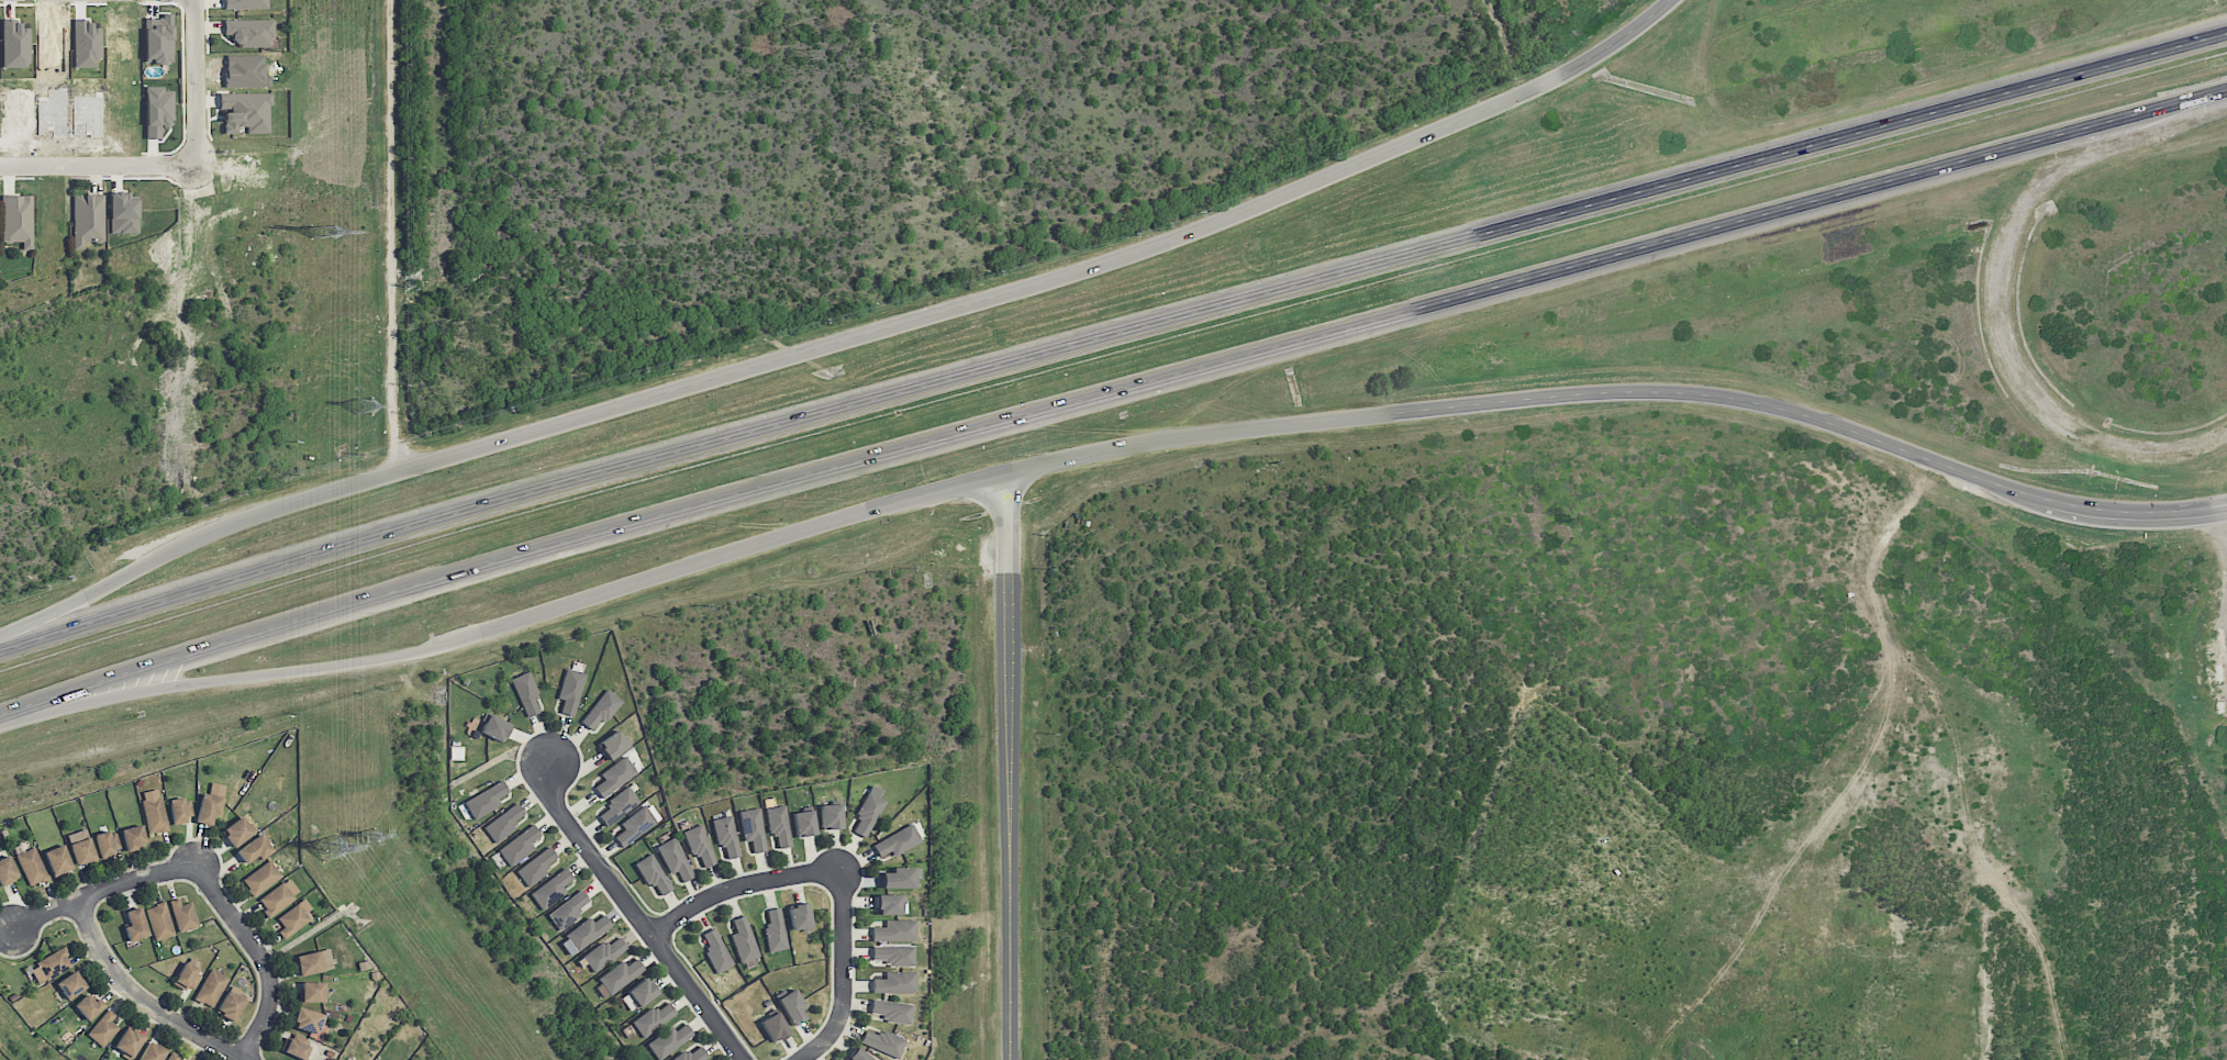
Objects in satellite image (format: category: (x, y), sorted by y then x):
building: (246, 3)
building: (248, 32)
building: (158, 40)
road: (194, 80)
building: (157, 110)
building: (245, 111)
road: (99, 161)
building: (122, 212)
building: (87, 219)
building: (16, 220)
power tower: (323, 231)
road: (391, 234)
road: (1051, 276)
road: (1111, 337)
road: (1112, 395)
power tower: (366, 406)
road: (1337, 419)
road: (194, 537)
road: (229, 677)
building: (570, 690)
building: (525, 692)
building: (600, 710)
building: (493, 727)
building: (613, 744)
road: (1006, 766)
building: (615, 776)
building: (485, 800)
building: (210, 803)
building: (619, 805)
building: (178, 810)
building: (153, 811)
building: (867, 811)
building: (829, 816)
building: (502, 823)
building: (803, 823)
building: (636, 824)
building: (778, 825)
building: (753, 828)
building: (236, 832)
building: (725, 835)
building: (133, 836)
power tower: (371, 837)
building: (897, 841)
building: (103, 844)
building: (519, 845)
building: (80, 846)
power tower: (330, 846)
building: (699, 846)
building: (254, 849)
building: (673, 858)
building: (57, 859)
building: (30, 864)
building: (535, 866)
building: (7, 870)
building: (652, 872)
building: (261, 878)
building: (900, 878)
road: (737, 885)
road: (100, 888)
building: (550, 889)
building: (276, 899)
building: (890, 904)
building: (569, 908)
road: (638, 914)
building: (183, 915)
building: (800, 916)
building: (294, 918)
building: (159, 920)
building: (134, 924)
building: (775, 930)
building: (894, 930)
building: (587, 931)
building: (744, 939)
building: (716, 951)
building: (603, 952)
road: (260, 953)
building: (893, 955)
building: (313, 961)
building: (49, 966)
building: (617, 975)
road: (843, 975)
building: (188, 977)
building: (895, 982)
building: (69, 984)
building: (211, 988)
building: (311, 991)
building: (637, 994)
road: (140, 997)
building: (87, 1005)
building: (230, 1005)
building: (791, 1007)
building: (892, 1011)
building: (652, 1018)
building: (307, 1020)
building: (773, 1026)
building: (103, 1028)
building: (667, 1040)
building: (127, 1041)
building: (883, 1042)
building: (294, 1048)
building: (152, 1052)
building: (690, 1055)
building: (857, 1055)
building: (172, 1057)

